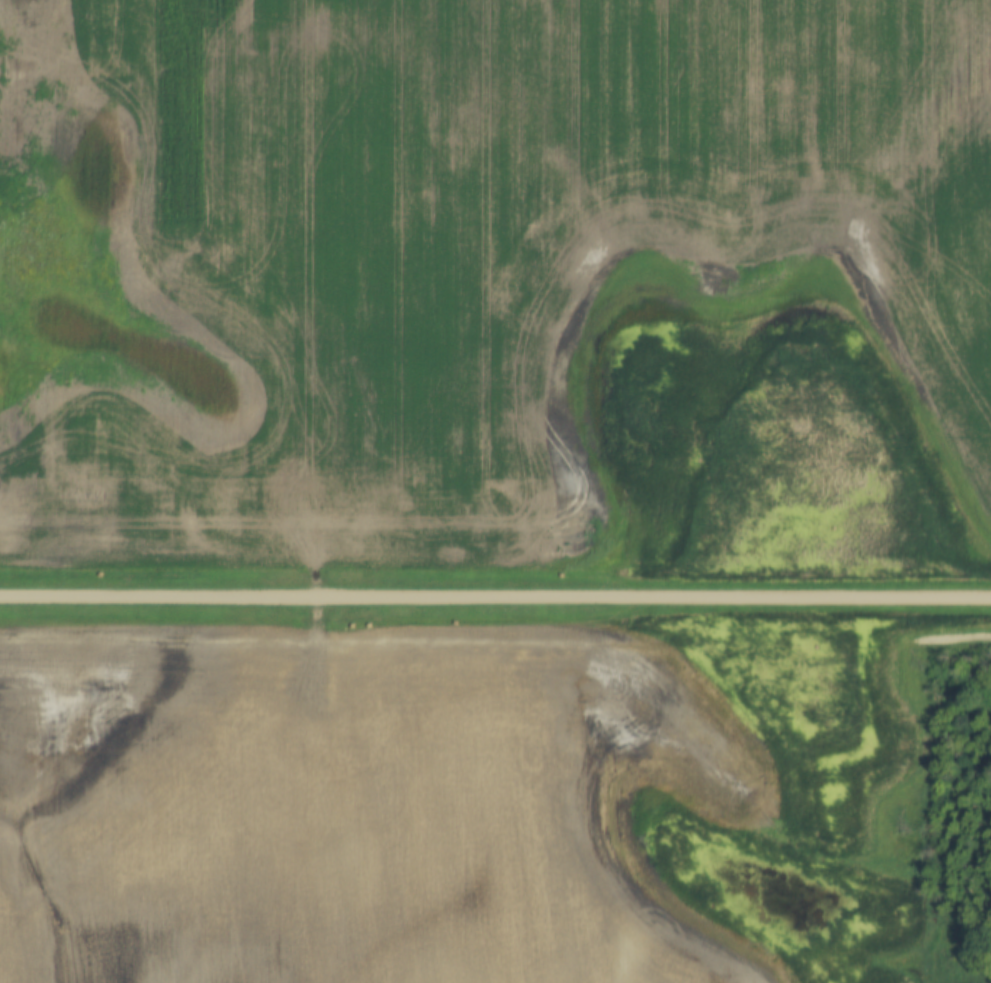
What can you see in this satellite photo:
road: (495, 594)

